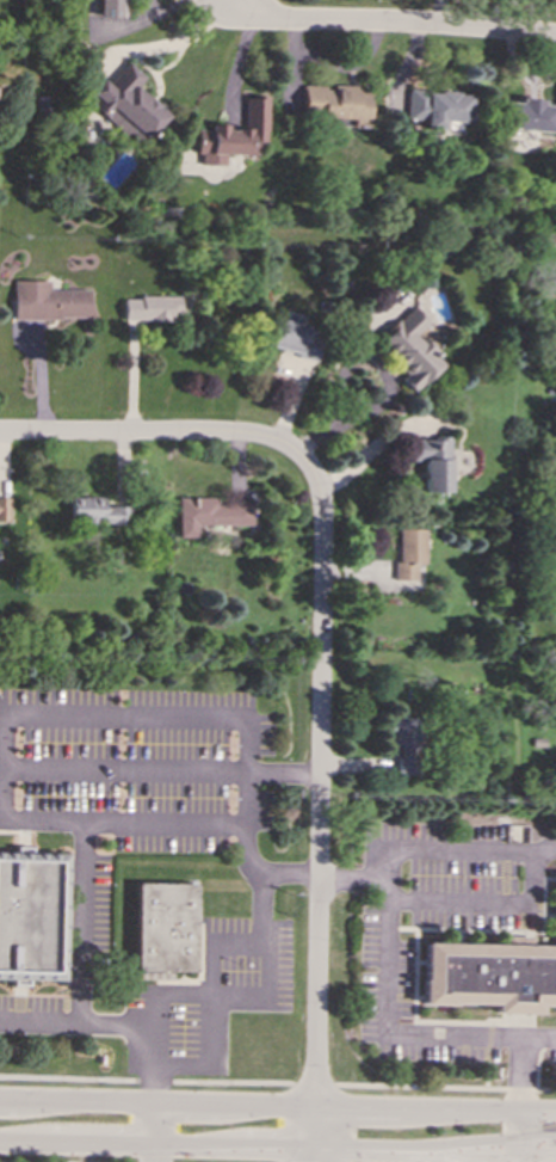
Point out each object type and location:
building: (113, 7)
road: (439, 13)
road: (396, 24)
building: (335, 102)
building: (128, 104)
building: (438, 107)
building: (529, 115)
building: (237, 131)
building: (212, 158)
building: (49, 301)
building: (150, 307)
building: (294, 338)
building: (410, 349)
road: (156, 432)
building: (433, 461)
building: (4, 509)
building: (97, 511)
building: (210, 514)
building: (409, 552)
road: (192, 714)
building: (404, 745)
road: (6, 766)
parking lot: (141, 767)
road: (128, 769)
road: (320, 804)
road: (153, 823)
road: (422, 848)
road: (288, 874)
road: (483, 899)
building: (31, 915)
building: (165, 927)
parking lot: (459, 942)
road: (229, 945)
parking lot: (72, 954)
road: (265, 972)
building: (493, 972)
parking lot: (211, 997)
road: (82, 998)
road: (240, 1000)
road: (41, 1020)
road: (394, 1031)
road: (215, 1063)
road: (278, 1082)
road: (523, 1086)
road: (277, 1109)
road: (152, 1135)
road: (474, 1143)
road: (278, 1150)
road: (314, 1156)
road: (523, 1158)

